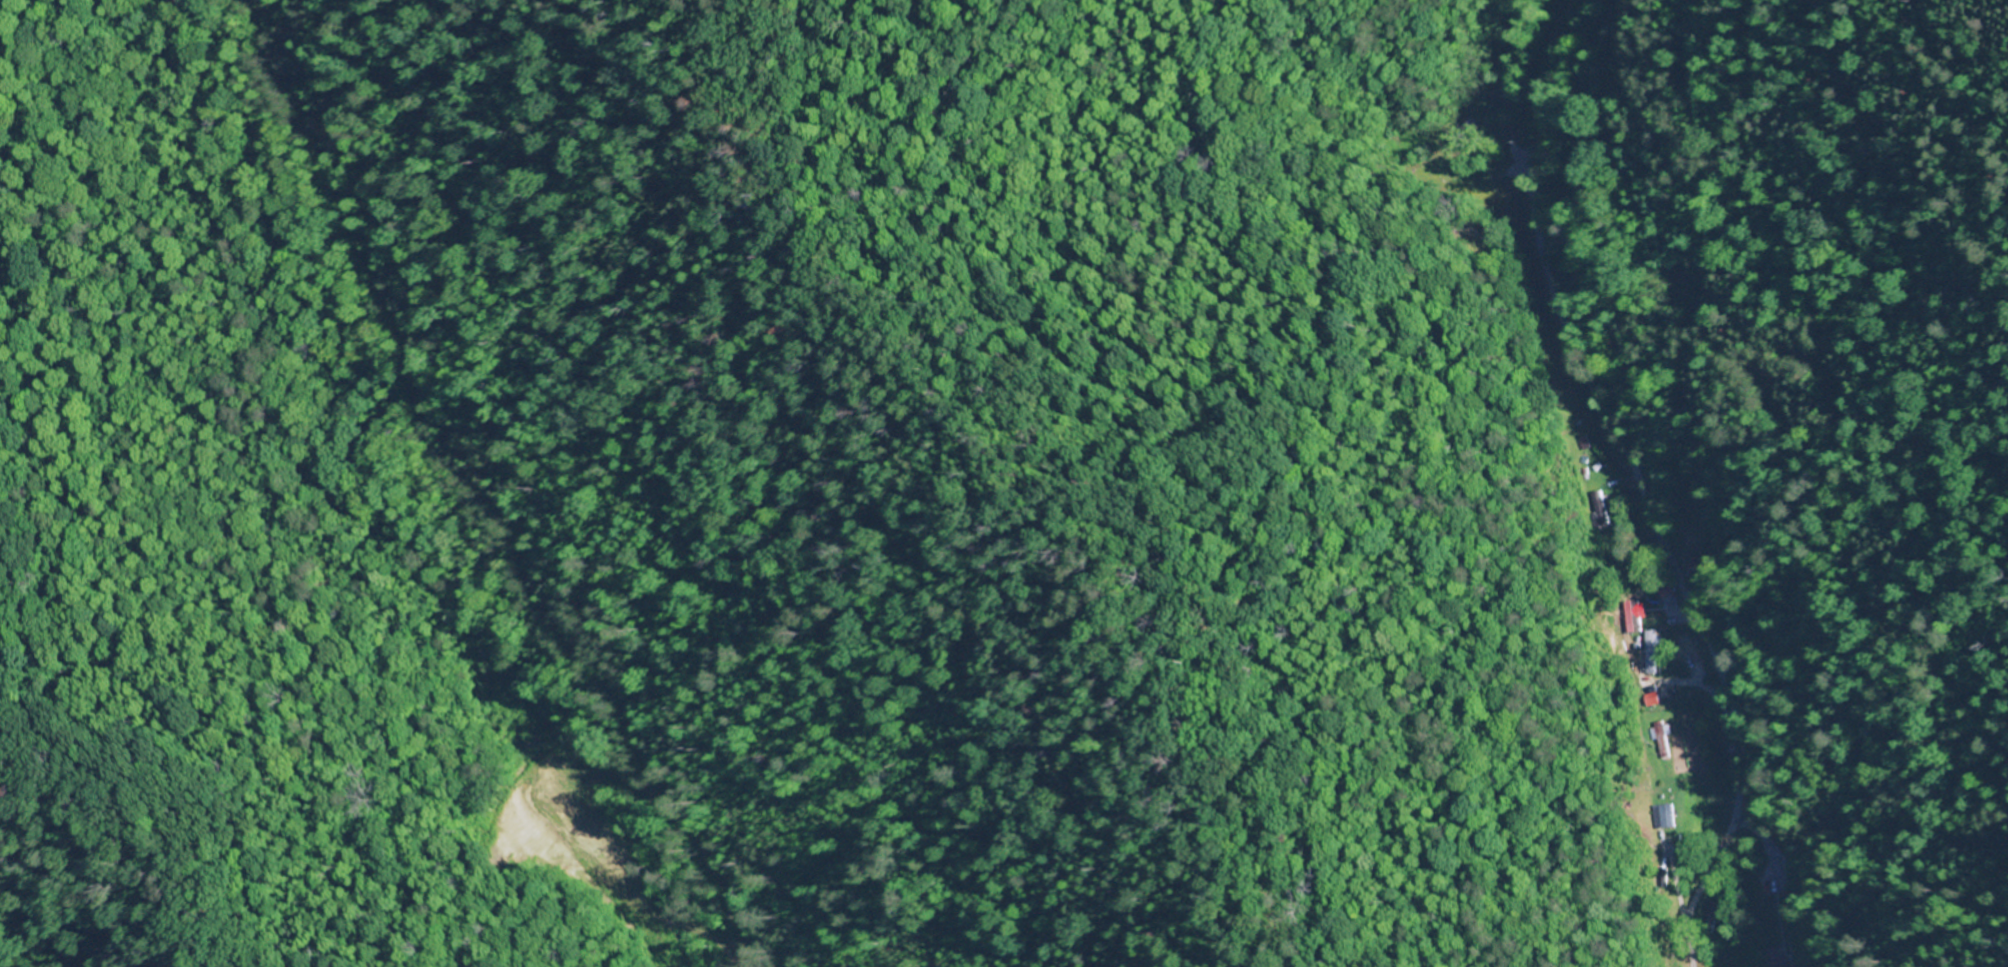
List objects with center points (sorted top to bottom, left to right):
building: (1651, 652)
building: (1662, 741)
building: (1709, 914)
road: (1665, 954)
road: (1708, 966)

